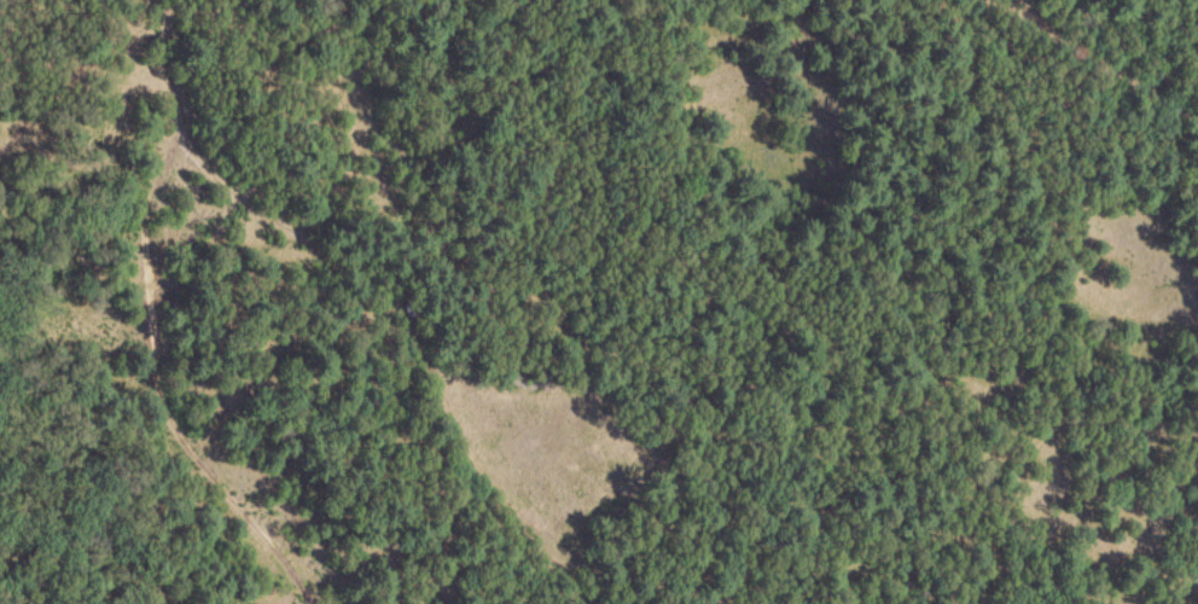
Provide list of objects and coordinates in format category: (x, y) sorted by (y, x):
road: (1111, 48)

